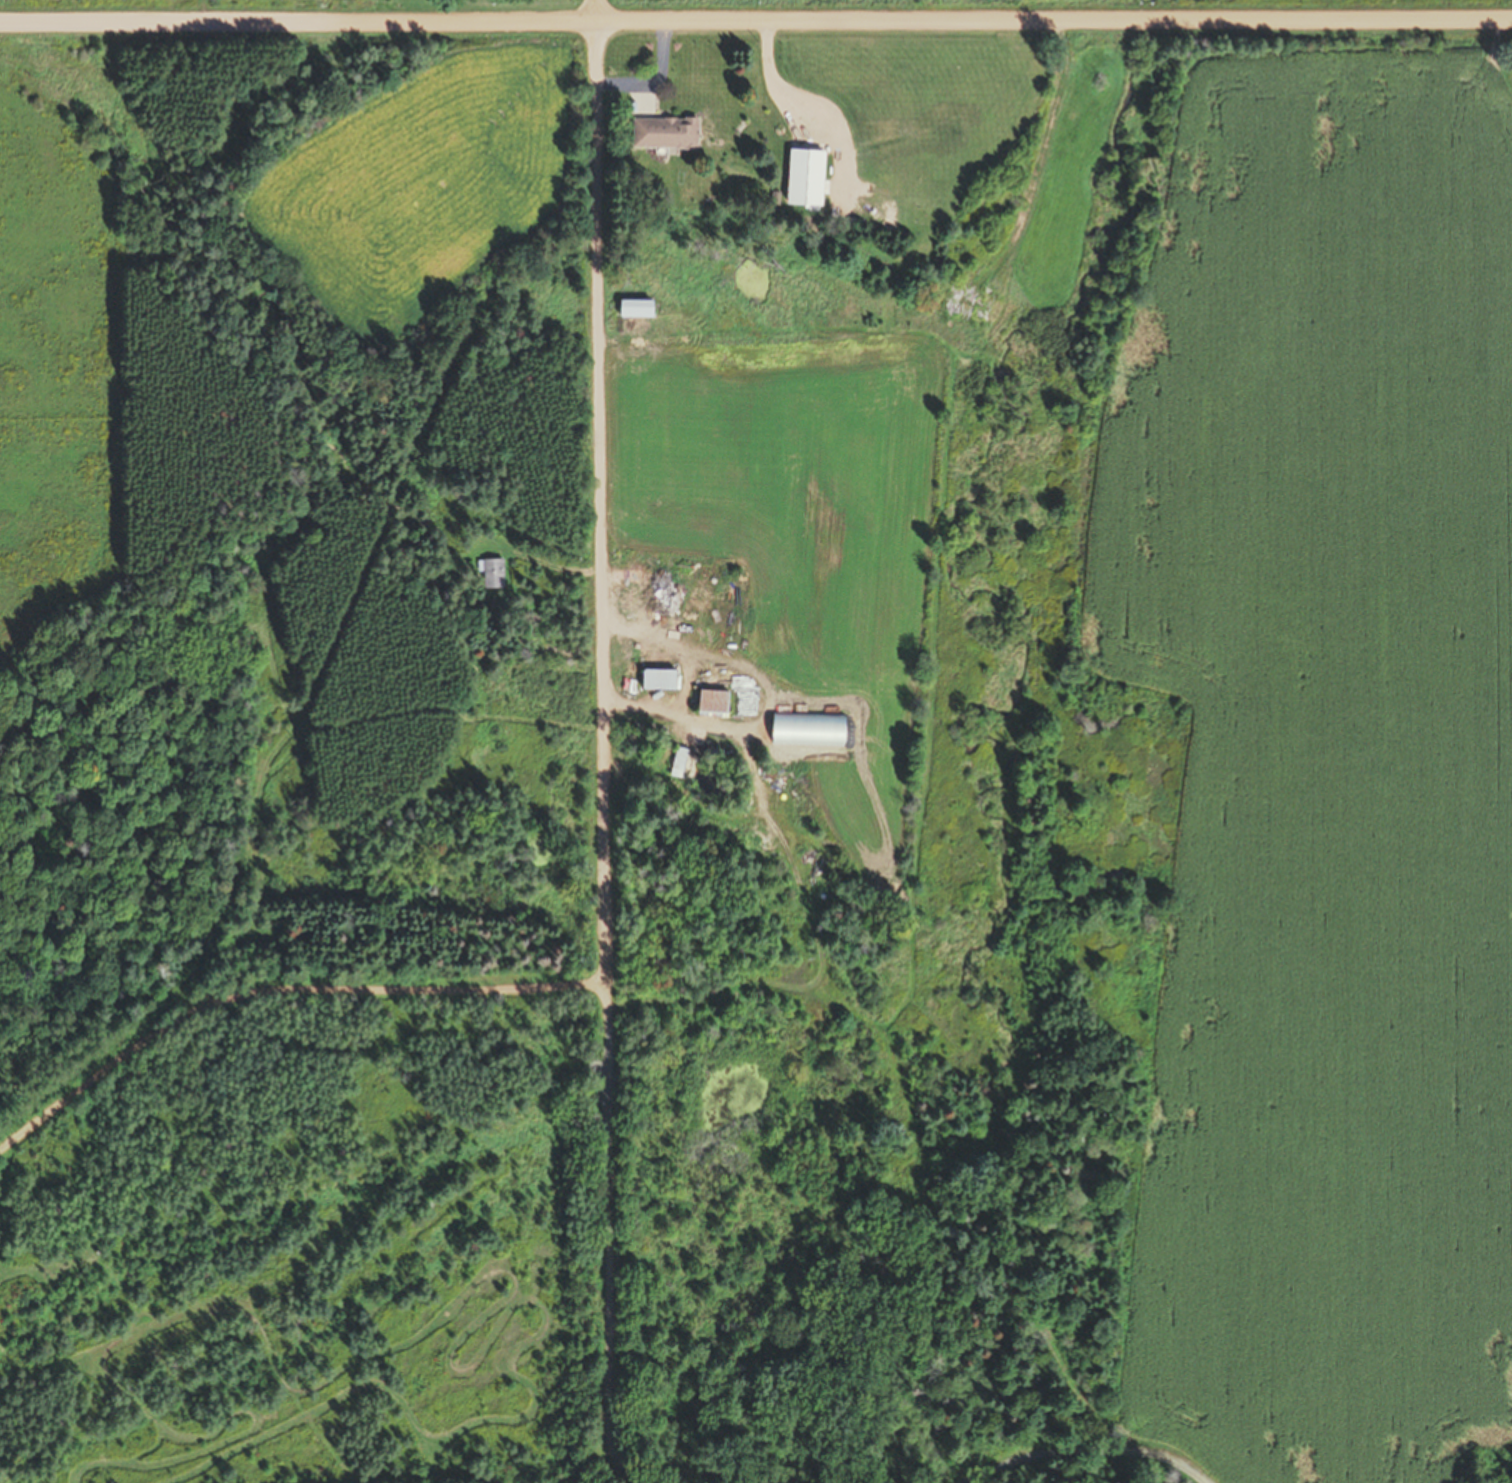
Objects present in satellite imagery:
road: (756, 19)
building: (660, 132)
building: (801, 177)
building: (961, 305)
building: (630, 308)
building: (489, 573)
building: (642, 587)
building: (655, 678)
building: (708, 701)
road: (601, 747)
building: (682, 762)
quarry: (311, 1233)

